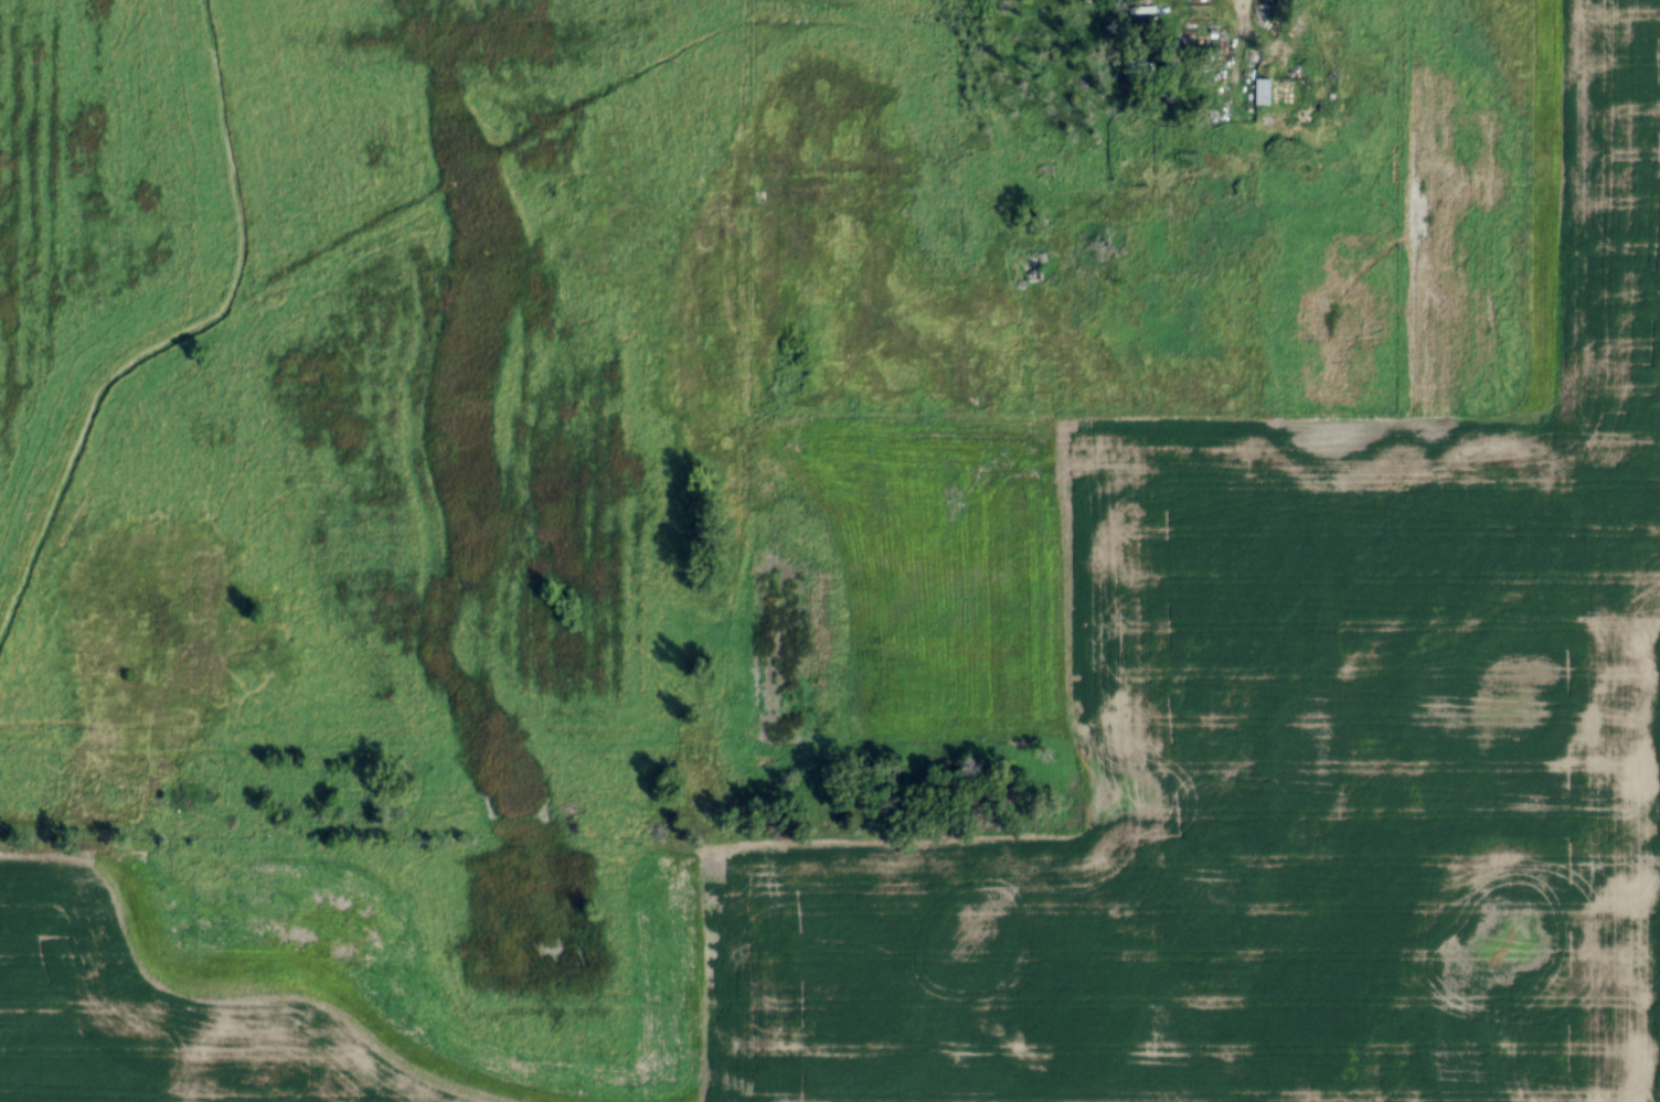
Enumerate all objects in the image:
road: (1260, 25)
building: (1259, 93)

